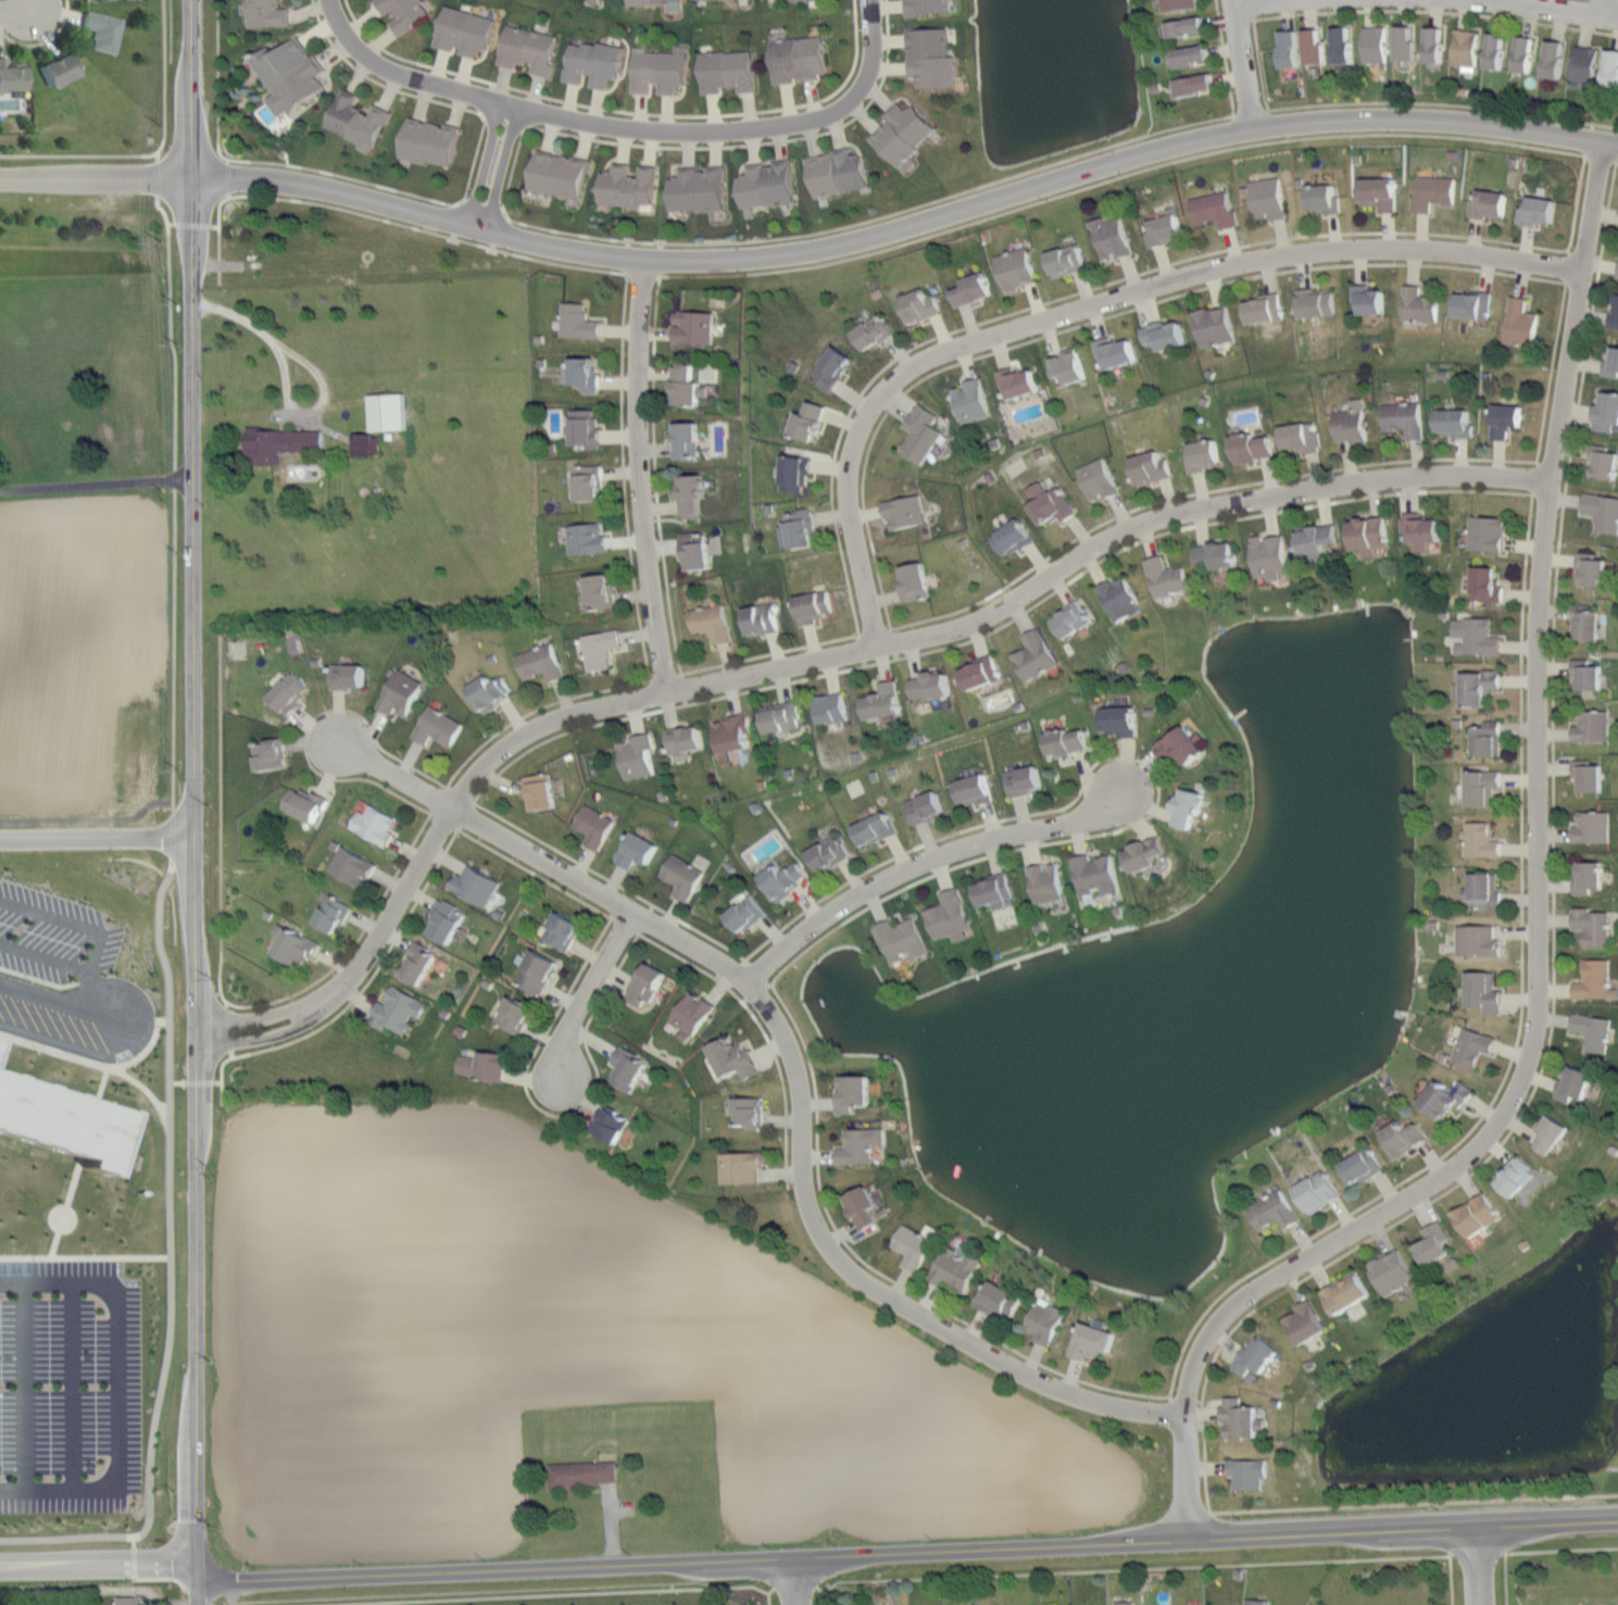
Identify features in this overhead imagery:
building: (794, 0)
building: (652, 1)
road: (1258, 2)
building: (1179, 4)
road: (1548, 5)
road: (1608, 5)
building: (927, 7)
road: (1435, 10)
road: (21, 11)
building: (265, 13)
building: (404, 13)
building: (1189, 26)
building: (103, 30)
building: (465, 30)
road: (46, 40)
building: (1405, 42)
building: (1375, 43)
building: (1343, 45)
building: (1434, 45)
building: (1314, 47)
building: (528, 49)
building: (1290, 49)
building: (1465, 49)
building: (1496, 50)
building: (1526, 53)
building: (1195, 54)
building: (931, 57)
building: (799, 58)
road: (1225, 58)
building: (1555, 59)
building: (593, 62)
road: (1243, 62)
building: (1585, 63)
road: (1259, 65)
building: (1610, 67)
building: (60, 70)
building: (660, 70)
building: (729, 71)
building: (12, 75)
building: (289, 75)
road: (164, 77)
building: (1199, 84)
road: (1443, 102)
road: (624, 110)
building: (358, 121)
road: (843, 123)
road: (627, 127)
building: (903, 134)
building: (431, 141)
road: (80, 153)
road: (514, 158)
road: (1615, 161)
road: (490, 166)
building: (838, 172)
building: (560, 174)
road: (1116, 175)
road: (96, 176)
building: (768, 183)
building: (629, 185)
building: (699, 188)
building: (1433, 191)
road: (413, 193)
building: (1380, 193)
road: (945, 196)
building: (1268, 198)
building: (1322, 198)
building: (1490, 203)
road: (1575, 203)
building: (1215, 210)
building: (1540, 211)
road: (906, 224)
road: (422, 227)
building: (1166, 228)
building: (1113, 237)
road: (218, 239)
building: (1066, 261)
building: (1016, 268)
building: (1617, 271)
building: (974, 290)
road: (1077, 290)
building: (1370, 300)
building: (1316, 302)
road: (1095, 303)
building: (1419, 304)
building: (921, 305)
building: (1472, 305)
building: (1263, 309)
building: (1614, 312)
road: (1104, 316)
building: (579, 322)
building: (1521, 322)
building: (695, 326)
building: (1215, 326)
building: (875, 331)
road: (622, 333)
building: (1165, 336)
road: (285, 347)
building: (1117, 353)
building: (1610, 360)
building: (1069, 365)
building: (835, 367)
road: (285, 371)
road: (174, 372)
building: (586, 374)
road: (1548, 377)
building: (1019, 383)
building: (688, 386)
building: (970, 401)
building: (1606, 410)
building: (388, 412)
building: (1403, 418)
building: (1506, 419)
building: (811, 421)
building: (1453, 422)
building: (1353, 424)
building: (586, 428)
building: (921, 432)
building: (1300, 438)
building: (687, 440)
building: (279, 441)
building: (366, 443)
building: (1254, 447)
building: (1205, 455)
building: (1604, 461)
building: (1151, 467)
building: (794, 473)
road: (653, 474)
road: (637, 475)
building: (1099, 479)
road: (96, 482)
building: (590, 482)
road: (1197, 491)
building: (694, 497)
building: (1051, 504)
building: (1602, 510)
building: (905, 512)
building: (802, 529)
building: (1422, 530)
building: (1488, 534)
building: (1369, 535)
road: (627, 537)
building: (587, 538)
building: (1012, 538)
building: (1317, 540)
building: (698, 551)
building: (1218, 555)
building: (1271, 556)
building: (1592, 569)
building: (1167, 577)
building: (916, 582)
road: (1523, 582)
building: (1489, 584)
building: (601, 592)
building: (1119, 598)
building: (812, 607)
building: (762, 619)
building: (1071, 619)
building: (712, 623)
building: (1588, 623)
building: (1477, 637)
building: (600, 649)
road: (767, 652)
building: (1034, 656)
road: (811, 659)
building: (540, 663)
building: (1588, 673)
building: (980, 674)
building: (349, 676)
road: (173, 680)
building: (930, 687)
building: (1482, 687)
building: (290, 692)
building: (489, 692)
building: (402, 693)
building: (882, 702)
building: (831, 709)
building: (782, 717)
building: (1119, 720)
building: (1592, 725)
building: (438, 727)
building: (732, 737)
building: (685, 739)
building: (1488, 739)
building: (1066, 742)
building: (1182, 748)
building: (272, 756)
road: (397, 757)
building: (637, 757)
road: (1150, 768)
road: (496, 774)
building: (1589, 774)
building: (1025, 780)
building: (1484, 788)
building: (973, 790)
building: (540, 792)
road: (192, 802)
building: (304, 803)
building: (926, 807)
building: (1190, 807)
road: (221, 819)
building: (376, 824)
building: (594, 826)
building: (1593, 826)
building: (876, 829)
road: (97, 837)
building: (1481, 840)
building: (637, 850)
building: (1149, 853)
building: (829, 854)
road: (1553, 862)
road: (918, 864)
building: (352, 866)
road: (534, 872)
building: (1096, 875)
building: (681, 876)
building: (1589, 877)
building: (785, 880)
building: (1048, 882)
building: (475, 885)
building: (994, 890)
building: (1484, 892)
road: (636, 893)
building: (333, 914)
building: (745, 914)
building: (949, 916)
road: (1541, 918)
building: (447, 920)
building: (1592, 927)
road: (694, 928)
building: (563, 930)
building: (902, 940)
building: (1478, 941)
road: (352, 944)
building: (292, 945)
road: (691, 963)
building: (421, 964)
building: (537, 973)
road: (368, 978)
building: (1595, 980)
building: (648, 983)
building: (1485, 994)
road: (594, 995)
road: (121, 1004)
road: (66, 1005)
building: (398, 1010)
building: (692, 1013)
building: (515, 1014)
building: (1594, 1030)
building: (0, 1041)
building: (1473, 1048)
building: (735, 1059)
building: (482, 1065)
building: (629, 1069)
road: (793, 1075)
road: (221, 1080)
building: (1573, 1082)
road: (783, 1084)
building: (856, 1094)
building: (1445, 1100)
building: (749, 1112)
road: (549, 1113)
building: (61, 1121)
building: (611, 1124)
building: (1551, 1133)
building: (1405, 1137)
building: (860, 1146)
building: (1360, 1165)
building: (741, 1167)
building: (1516, 1176)
road: (167, 1190)
building: (1317, 1190)
building: (865, 1208)
building: (1275, 1209)
building: (1477, 1214)
building: (1434, 1242)
building: (914, 1246)
building: (958, 1269)
road: (877, 1270)
building: (1392, 1271)
building: (1344, 1291)
building: (1000, 1299)
building: (1305, 1320)
building: (1046, 1321)
building: (1094, 1343)
crop: (567, 1354)
building: (1254, 1358)
road: (121, 1383)
road: (22, 1385)
road: (67, 1385)
building: (1243, 1419)
road: (1204, 1456)
building: (1249, 1472)
building: (581, 1474)
road: (1414, 1503)
road: (131, 1538)
road: (1534, 1550)
road: (908, 1557)
road: (98, 1565)
road: (1476, 1566)
road: (1152, 1567)
road: (794, 1584)
road: (528, 1594)
building: (133, 1600)
building: (1120, 1601)
building: (1253, 1601)
building: (1049, 1604)
building: (1187, 1604)
building: (1584, 1604)

